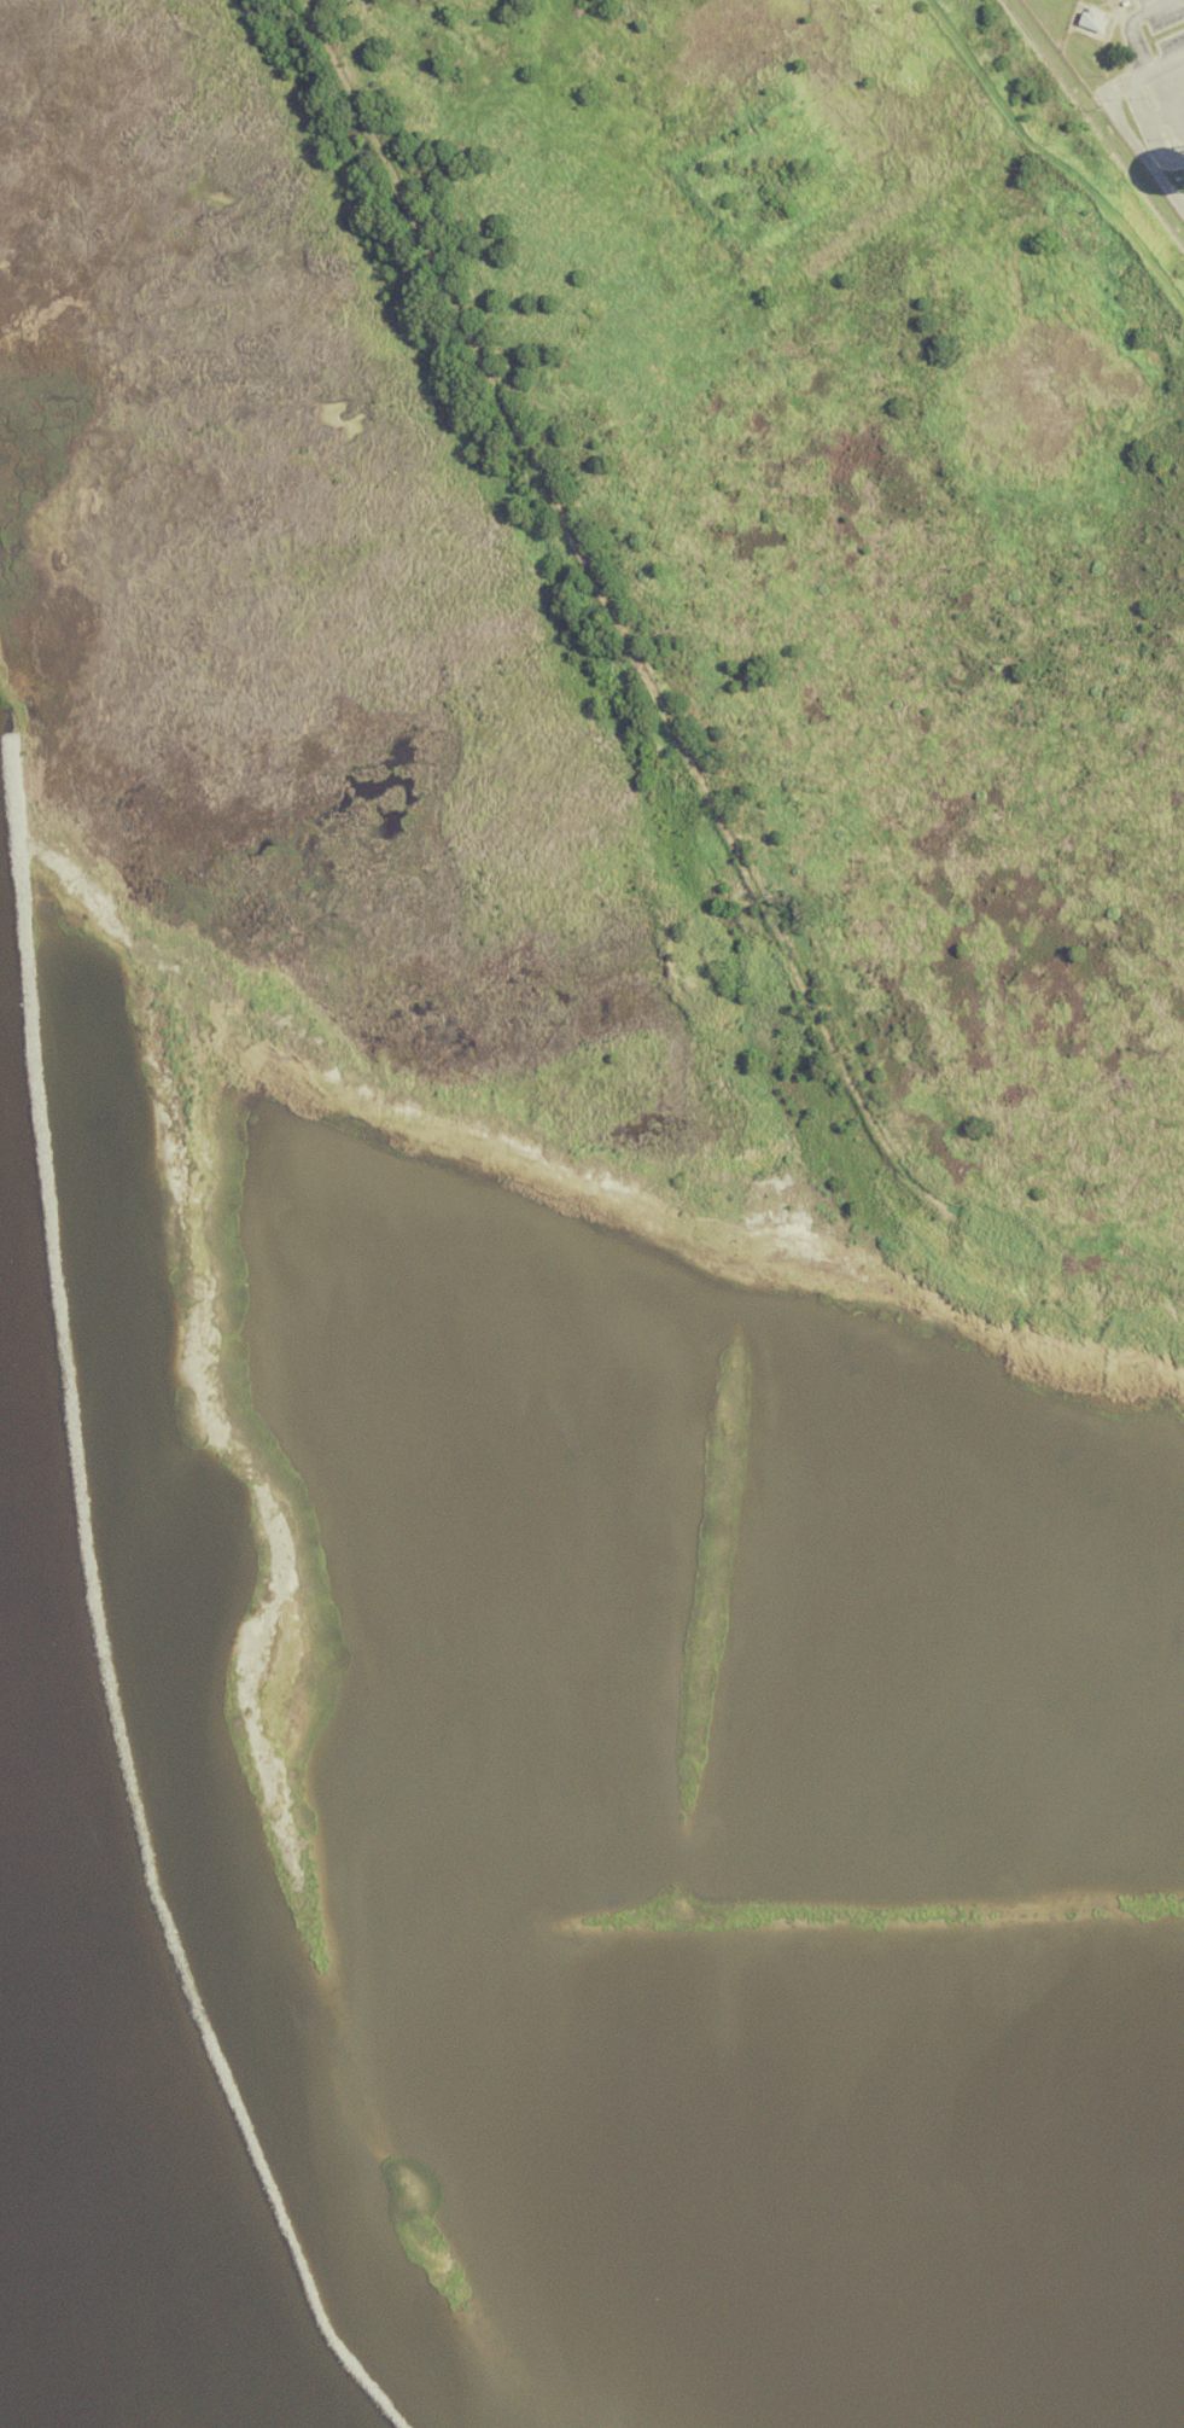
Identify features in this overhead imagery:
building: (1092, 19)
road: (1131, 98)

